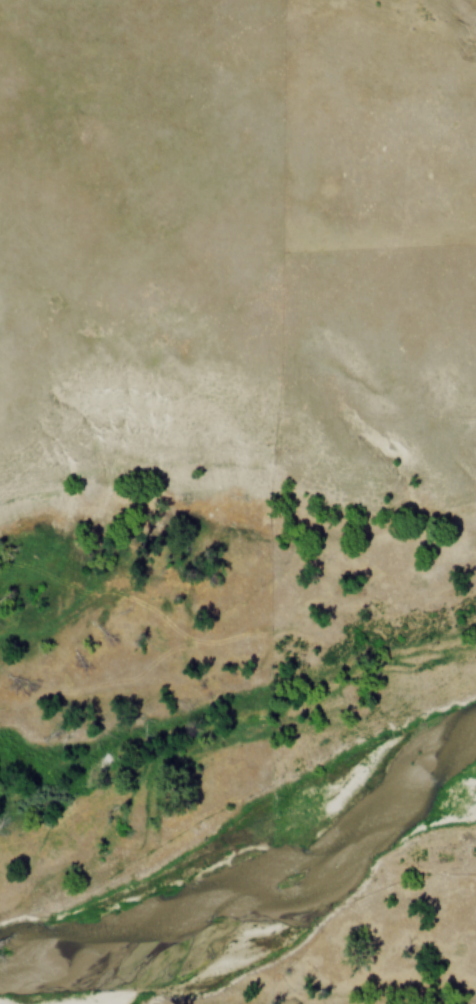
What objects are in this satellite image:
river: (257, 891)

